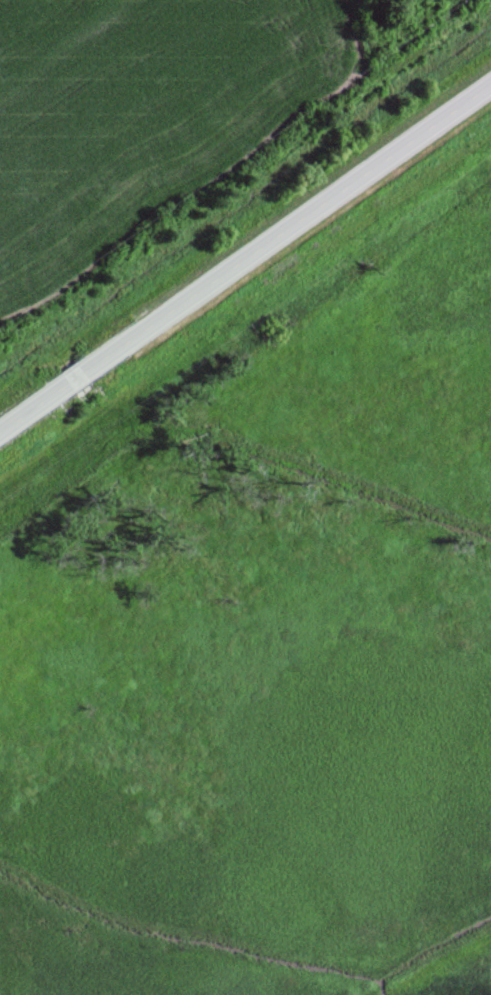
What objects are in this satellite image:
road: (245, 290)

